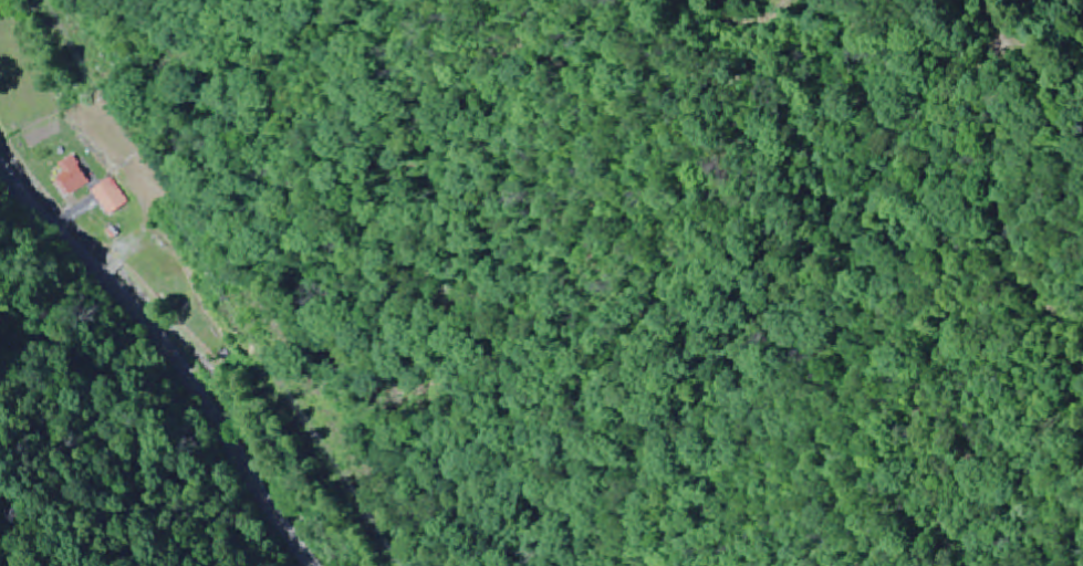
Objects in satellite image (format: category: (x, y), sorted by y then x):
building: (74, 178)
building: (111, 197)
road: (165, 358)

